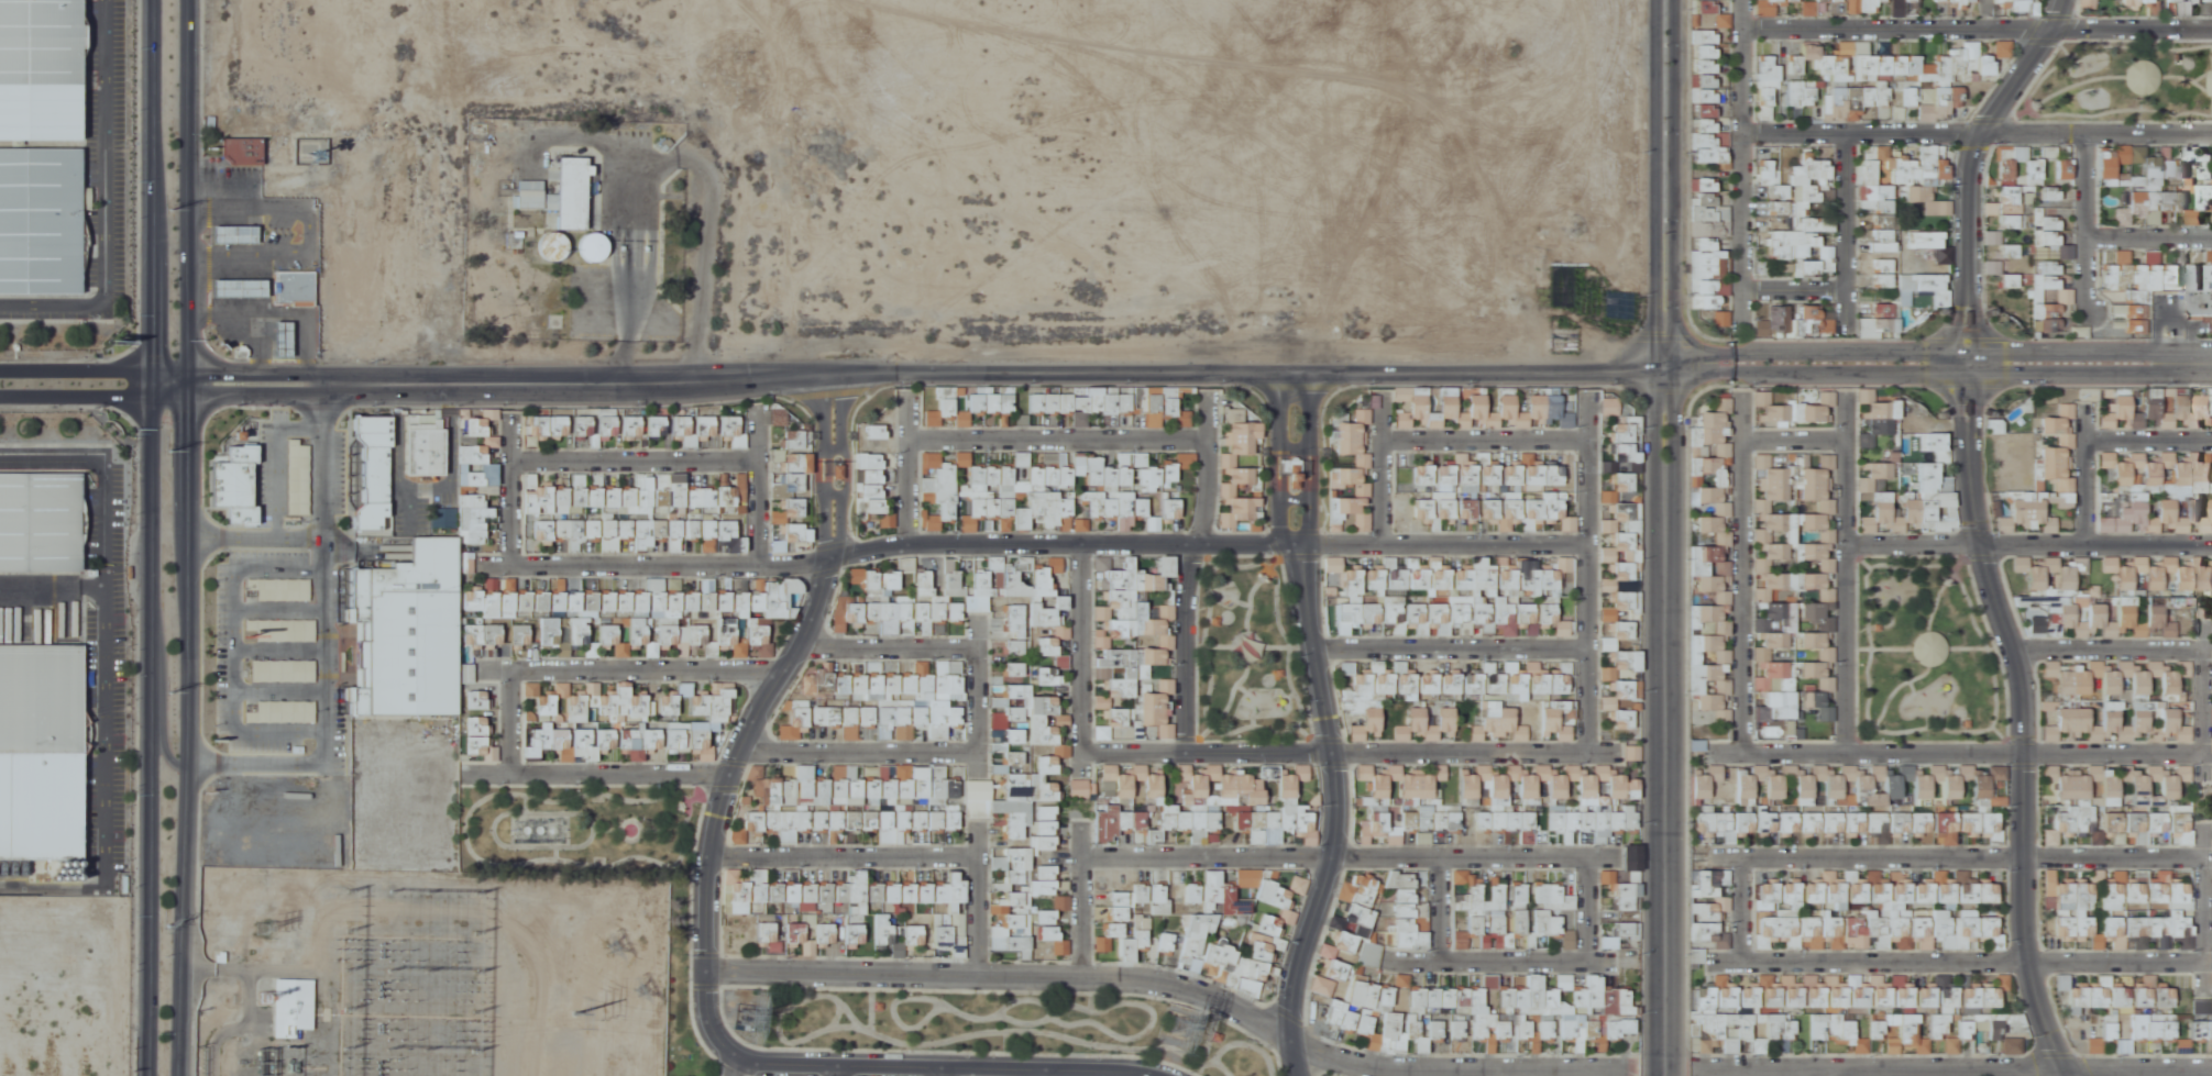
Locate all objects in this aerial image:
park: (2121, 85)
gas station: (233, 230)
gas station: (238, 284)
park: (1250, 650)
park: (1926, 656)
park: (605, 861)
power tower: (616, 950)
power substation: (346, 977)
power tower: (641, 992)
park: (1017, 1023)

